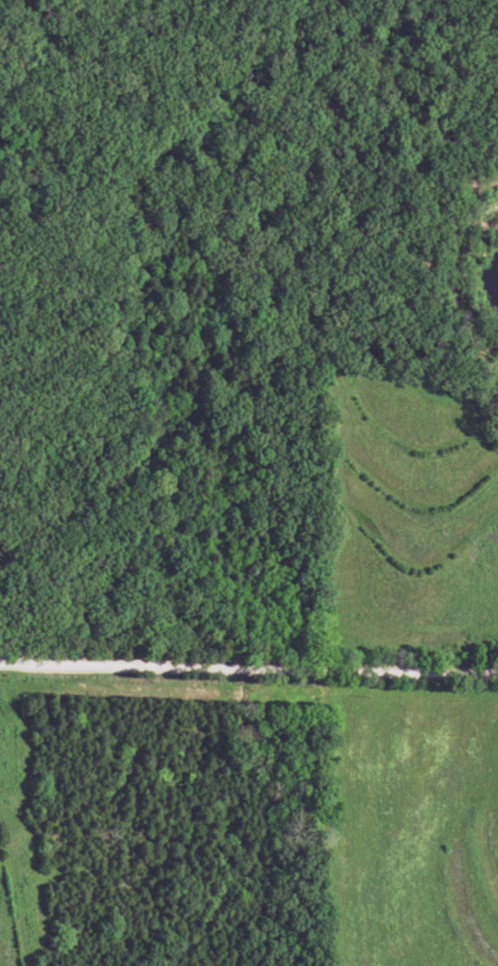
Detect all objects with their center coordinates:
road: (249, 669)

